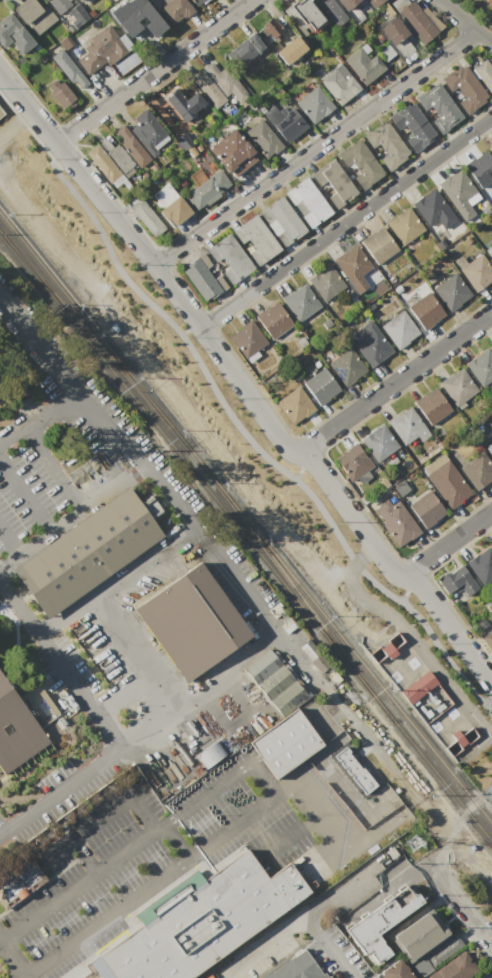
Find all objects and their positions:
building: (78, 0)
building: (195, 1)
building: (373, 2)
building: (59, 4)
building: (347, 4)
building: (108, 9)
building: (174, 10)
building: (331, 11)
building: (77, 12)
building: (135, 13)
building: (33, 14)
building: (304, 15)
road: (466, 20)
building: (417, 22)
building: (270, 26)
building: (13, 33)
building: (394, 33)
building: (68, 42)
building: (100, 49)
building: (243, 49)
building: (290, 49)
building: (386, 53)
building: (126, 62)
building: (363, 65)
building: (67, 68)
road: (153, 71)
building: (485, 72)
building: (224, 80)
building: (338, 84)
building: (208, 87)
building: (464, 88)
building: (60, 94)
building: (185, 99)
building: (313, 104)
building: (438, 107)
building: (1, 112)
building: (284, 119)
building: (411, 125)
road: (28, 129)
building: (147, 130)
building: (262, 137)
building: (183, 139)
building: (385, 144)
building: (129, 145)
building: (490, 146)
road: (316, 147)
building: (231, 151)
building: (119, 156)
building: (101, 162)
building: (359, 162)
building: (480, 168)
building: (333, 182)
building: (206, 188)
building: (462, 195)
building: (307, 201)
building: (173, 210)
building: (434, 210)
building: (146, 216)
building: (281, 219)
road: (346, 222)
building: (404, 225)
building: (255, 238)
building: (378, 244)
building: (489, 250)
building: (228, 257)
building: (351, 263)
building: (476, 271)
building: (200, 279)
building: (325, 281)
building: (452, 291)
building: (300, 301)
building: (425, 311)
building: (273, 319)
road: (195, 320)
railway: (87, 322)
building: (399, 329)
railway: (87, 331)
road: (183, 331)
building: (246, 338)
building: (370, 343)
building: (491, 346)
road: (44, 351)
road: (194, 357)
building: (346, 366)
building: (481, 366)
road: (394, 382)
road: (241, 385)
building: (320, 385)
building: (457, 386)
building: (0, 389)
building: (294, 404)
building: (432, 405)
road: (42, 420)
building: (406, 425)
building: (378, 442)
building: (489, 448)
railway: (196, 458)
railway: (184, 461)
building: (352, 462)
road: (55, 466)
road: (299, 467)
building: (477, 470)
building: (446, 481)
building: (400, 488)
road: (25, 495)
building: (426, 508)
road: (70, 515)
building: (394, 520)
building: (491, 541)
road: (9, 542)
building: (491, 542)
road: (448, 543)
building: (85, 552)
road: (354, 563)
building: (481, 565)
road: (225, 567)
building: (457, 584)
railway: (293, 587)
road: (404, 589)
road: (103, 604)
road: (66, 613)
building: (191, 622)
road: (411, 635)
road: (431, 636)
building: (488, 640)
building: (385, 647)
railway: (354, 654)
road: (57, 666)
building: (274, 683)
building: (418, 687)
road: (120, 692)
road: (489, 707)
road: (346, 709)
road: (145, 728)
building: (16, 730)
building: (461, 742)
building: (285, 744)
building: (209, 756)
railway: (430, 766)
building: (353, 771)
road: (260, 778)
road: (58, 792)
road: (318, 813)
road: (99, 816)
road: (454, 827)
road: (174, 841)
power tower: (413, 842)
road: (57, 847)
building: (19, 882)
parking lot: (127, 883)
road: (468, 910)
building: (198, 921)
building: (380, 923)
road: (289, 926)
building: (427, 930)
road: (330, 946)
building: (443, 950)
road: (12, 960)
building: (298, 965)
building: (455, 968)
building: (394, 971)

